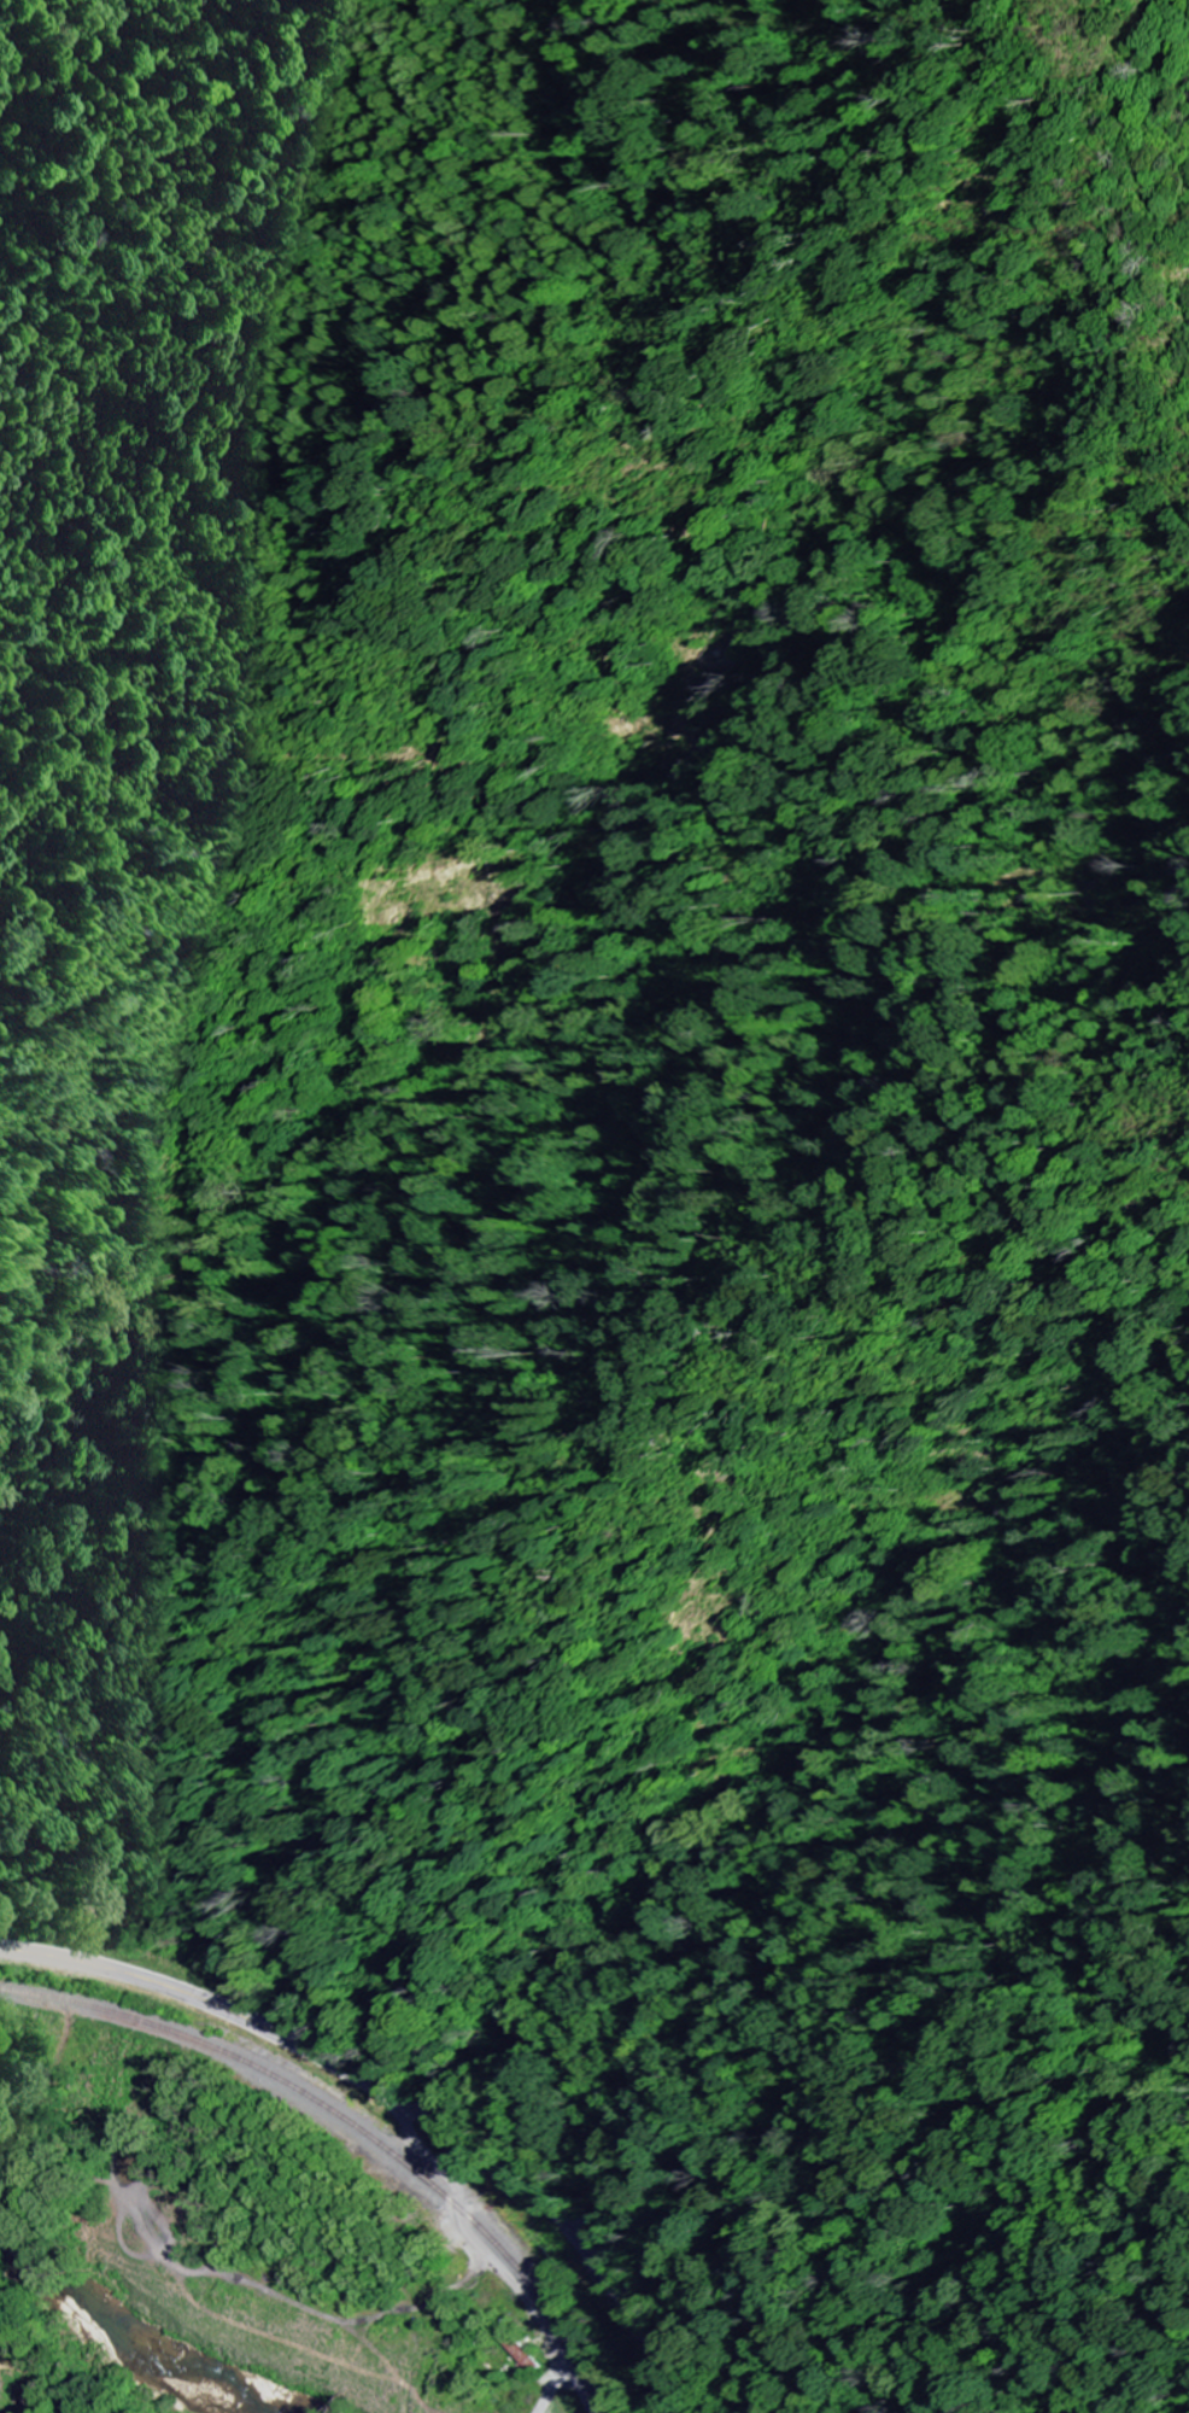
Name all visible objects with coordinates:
road: (396, 2101)
railway: (353, 2121)
road: (482, 2260)
river: (129, 2329)
road: (57, 2378)

